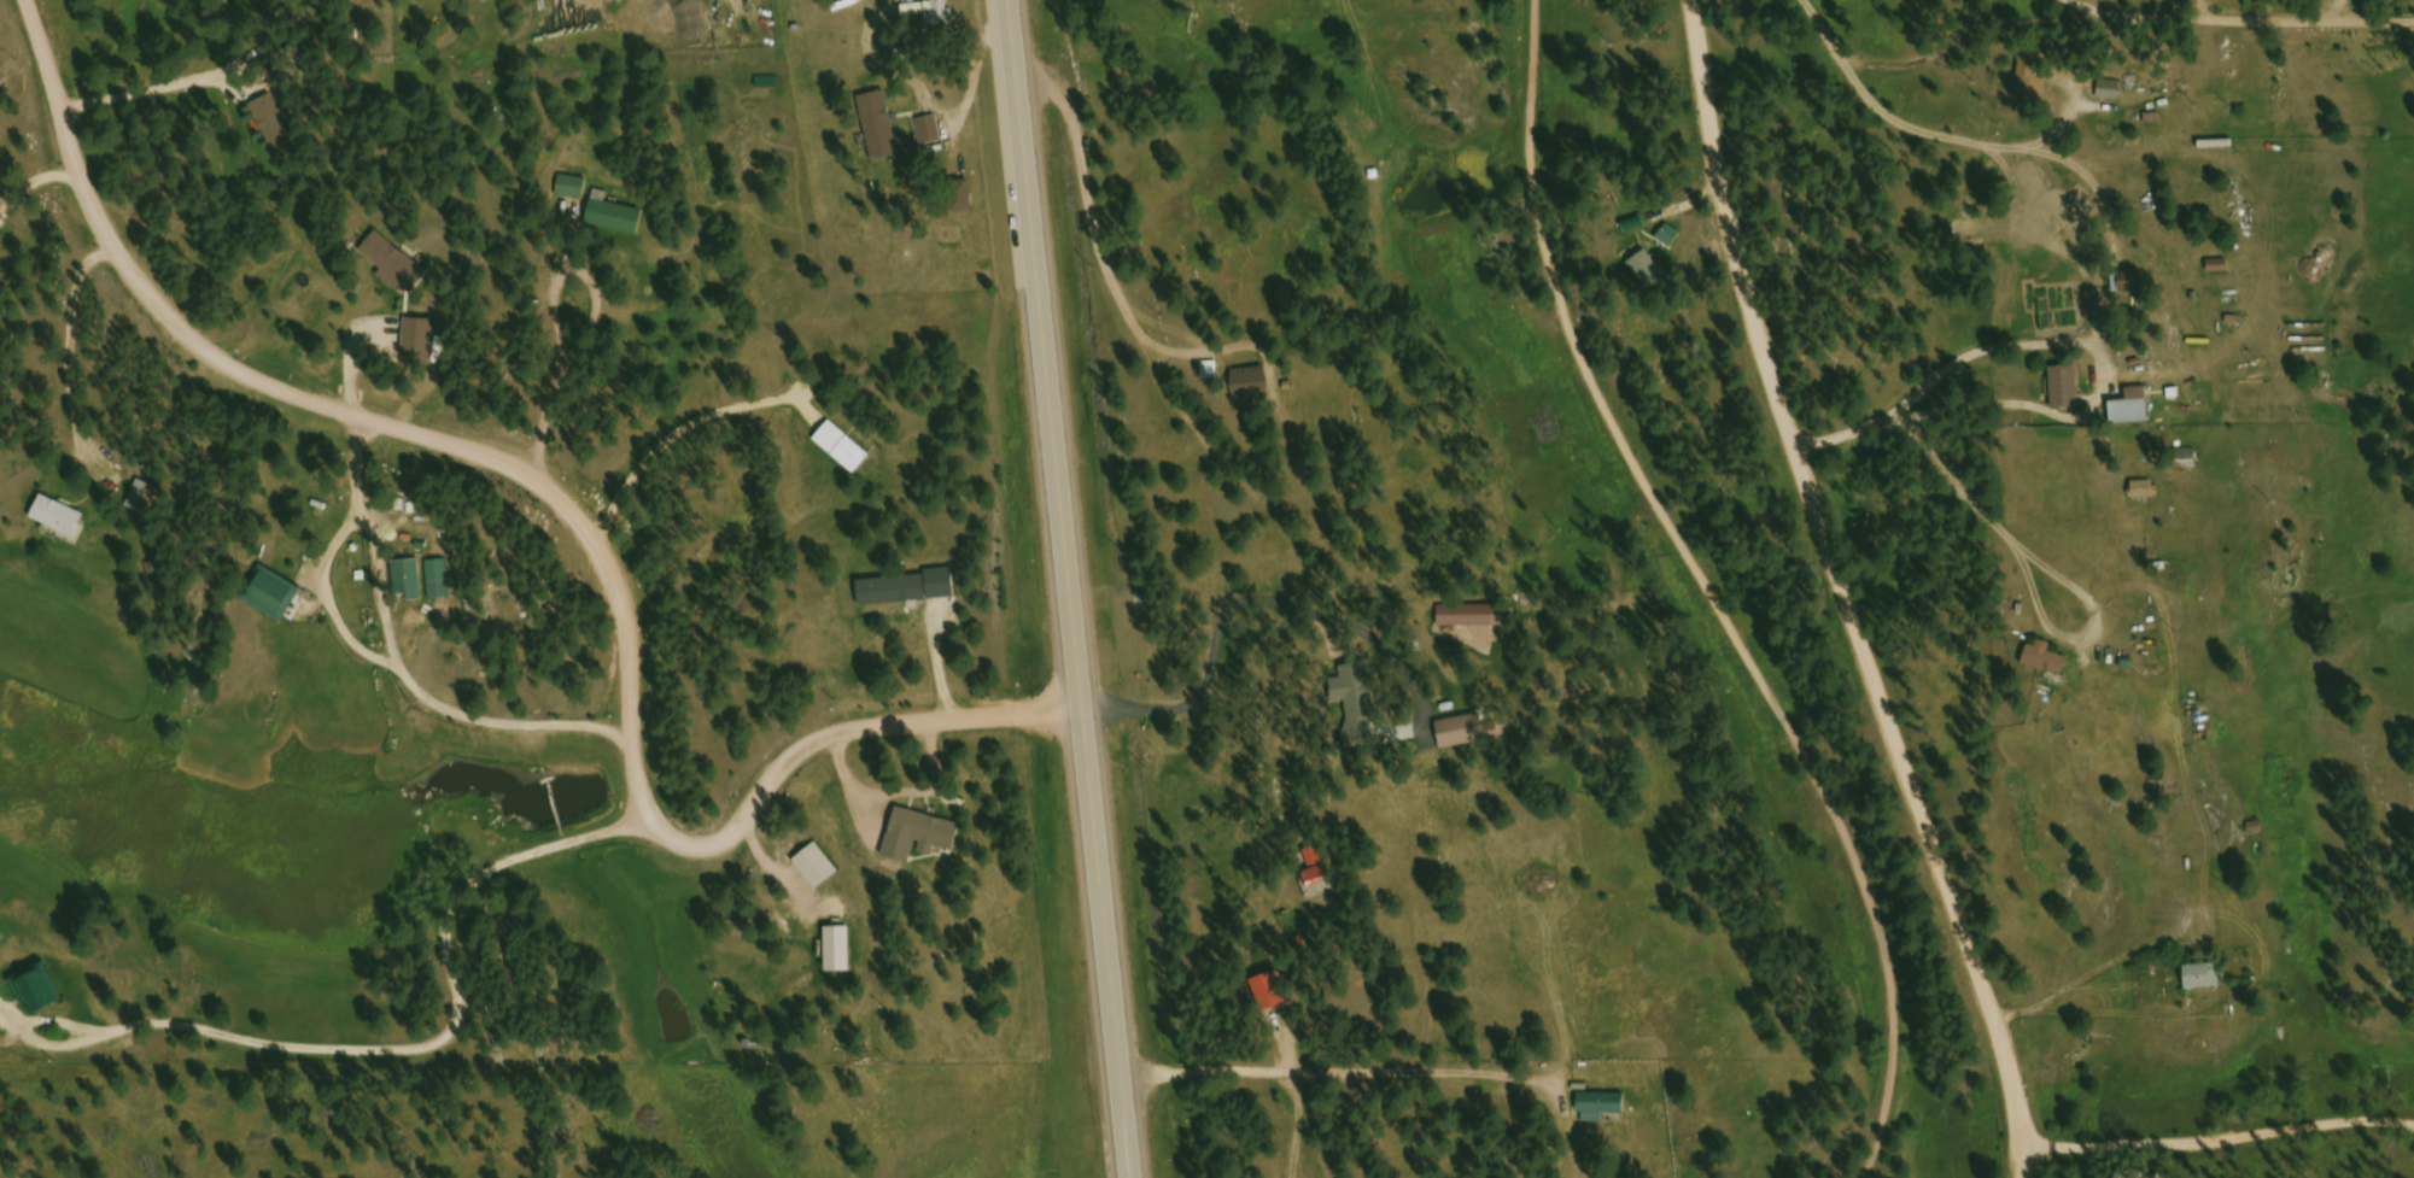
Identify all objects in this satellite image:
road: (27, 1)
building: (939, 14)
road: (2093, 24)
building: (2034, 83)
building: (2111, 93)
building: (273, 123)
building: (881, 128)
building: (963, 198)
building: (2057, 217)
building: (1670, 238)
building: (396, 266)
building: (1648, 272)
road: (642, 307)
building: (419, 344)
road: (444, 385)
building: (1252, 386)
building: (2067, 388)
building: (2133, 409)
road: (1883, 410)
building: (843, 449)
building: (2185, 458)
building: (2147, 492)
road: (580, 511)
building: (59, 518)
road: (1836, 572)
building: (409, 584)
road: (1070, 588)
building: (908, 591)
road: (1709, 592)
building: (274, 597)
building: (2047, 661)
building: (1356, 697)
building: (1462, 734)
building: (2258, 831)
building: (922, 838)
building: (1319, 873)
building: (840, 953)
building: (2205, 979)
building: (37, 992)
building: (1273, 995)
road: (1315, 1074)
building: (1602, 1109)
road: (2217, 1123)
road: (1302, 1125)
road: (2022, 1158)

